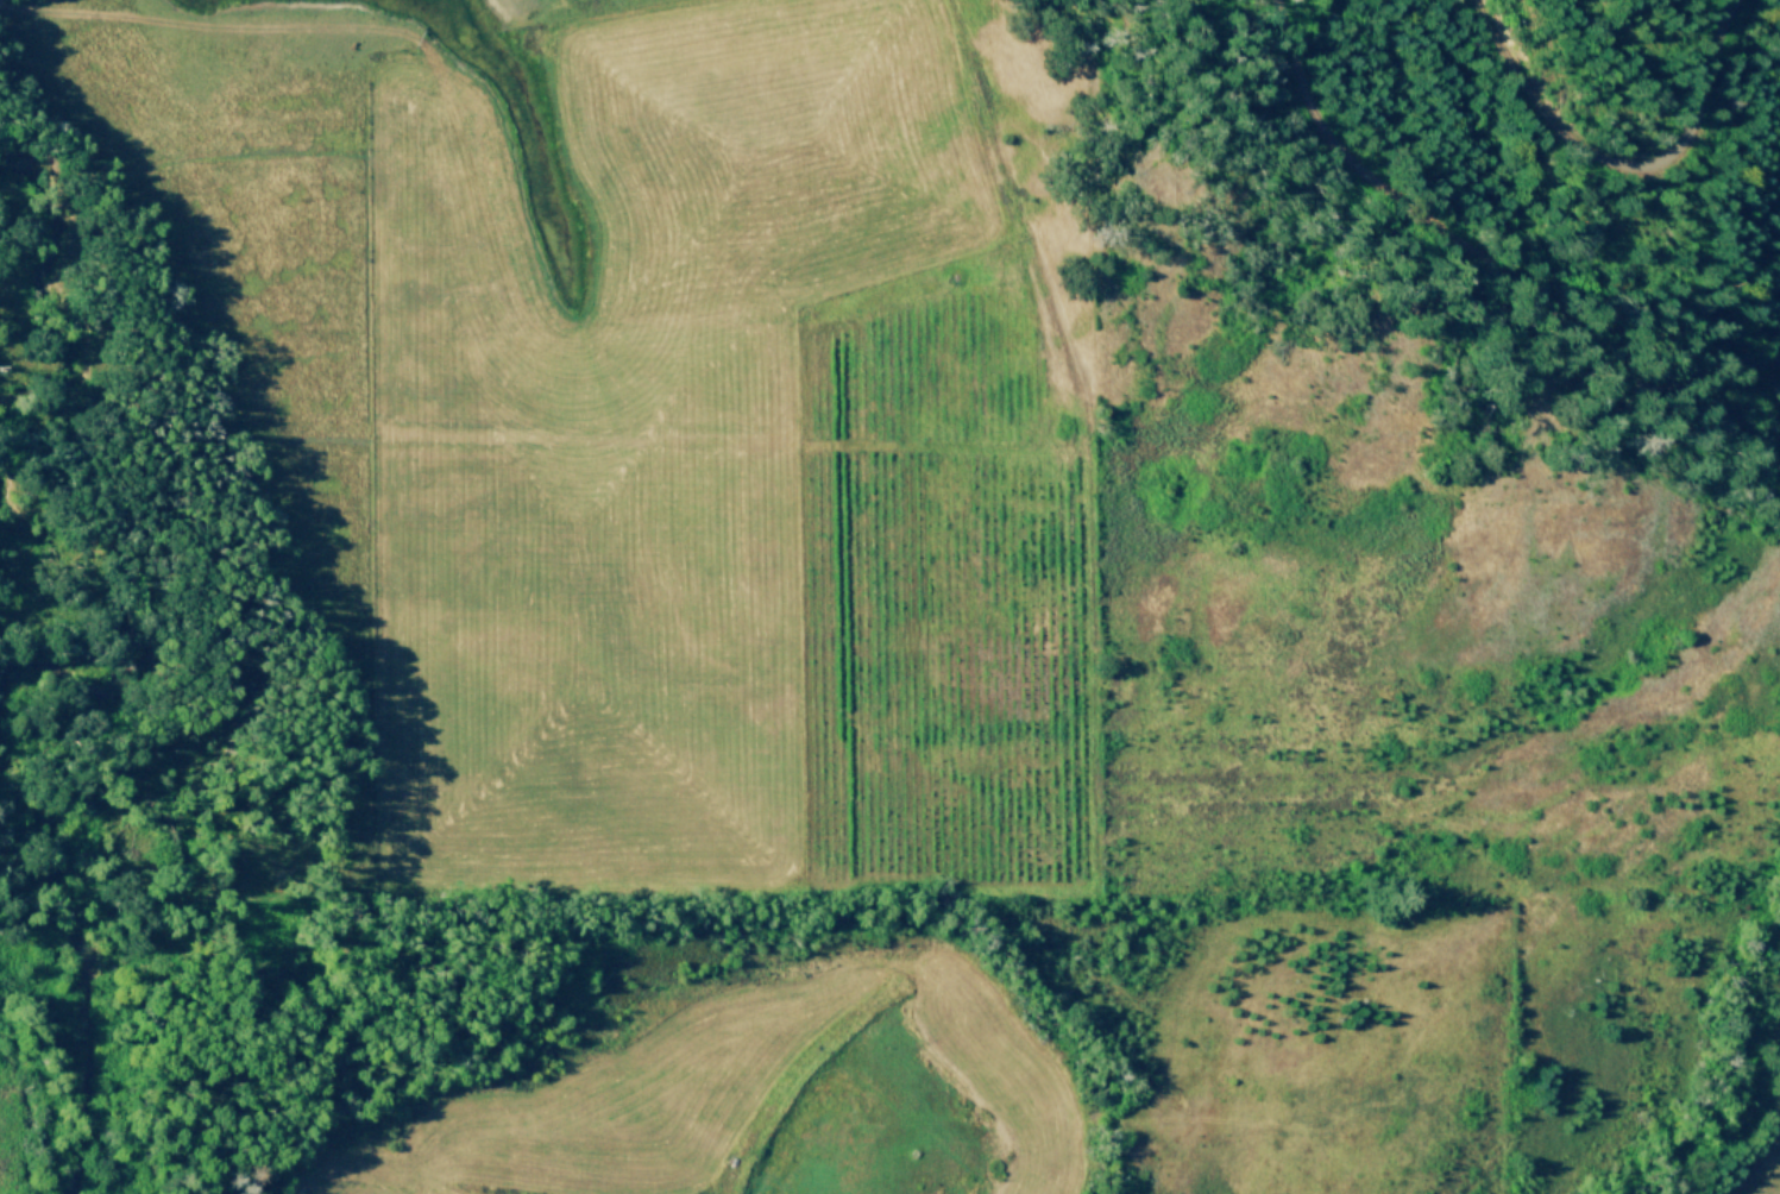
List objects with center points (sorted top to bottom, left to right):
road: (1493, 256)
crop: (948, 586)

